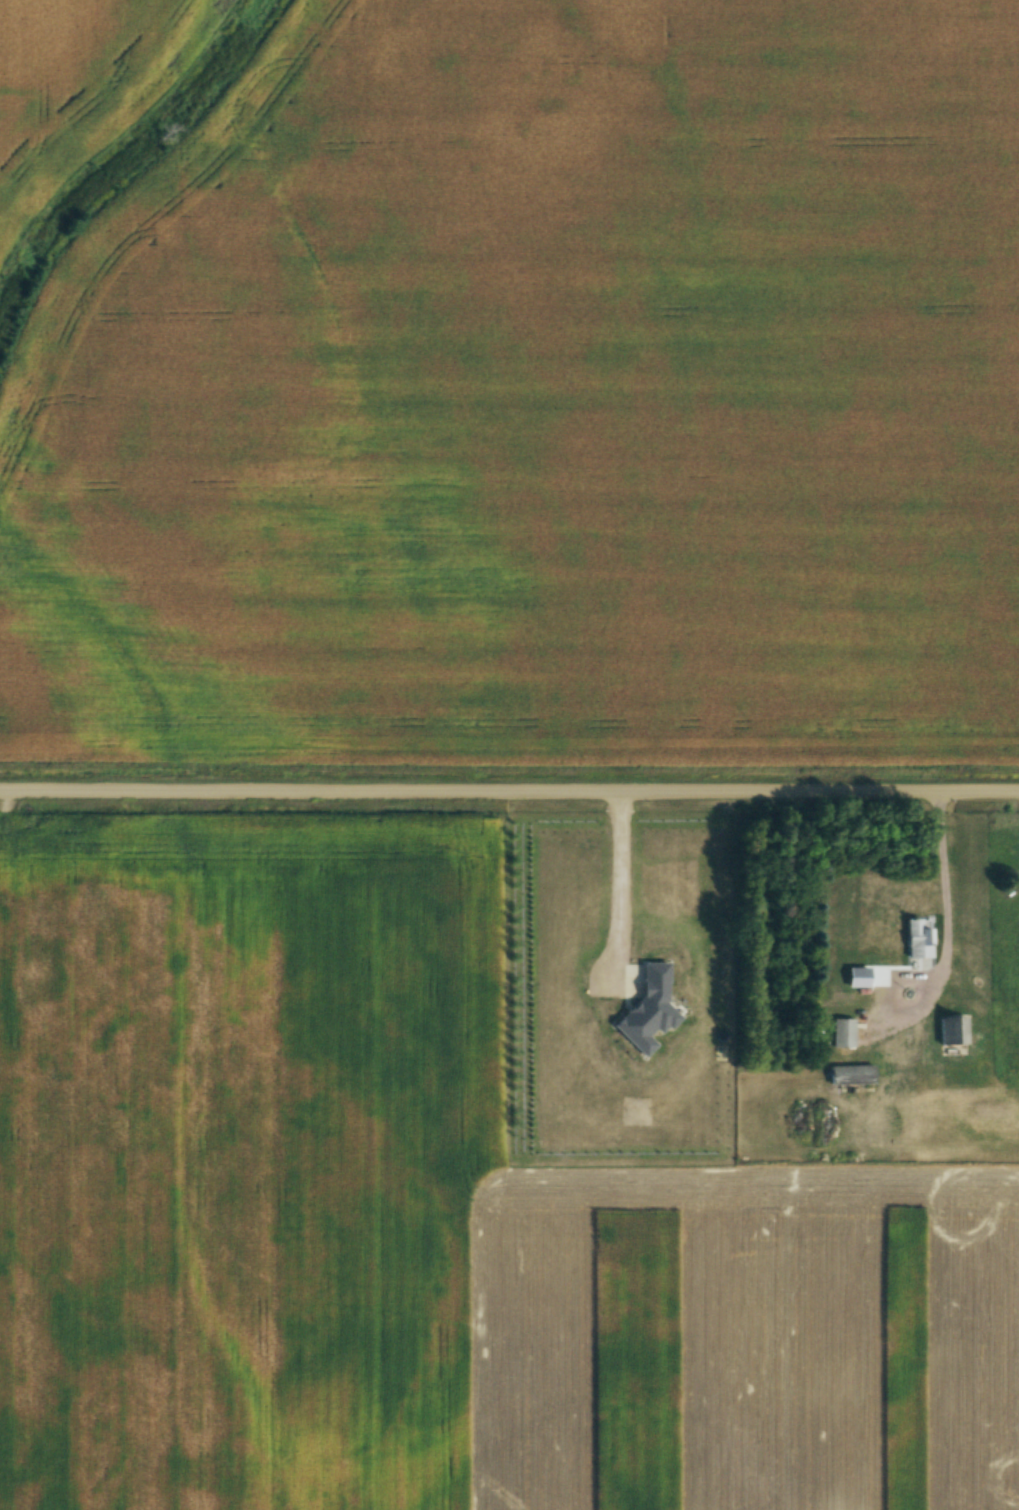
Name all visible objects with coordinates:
road: (509, 794)
road: (616, 889)
road: (949, 920)
building: (916, 941)
building: (858, 978)
building: (838, 999)
building: (956, 1031)
building: (843, 1034)
building: (851, 1076)

